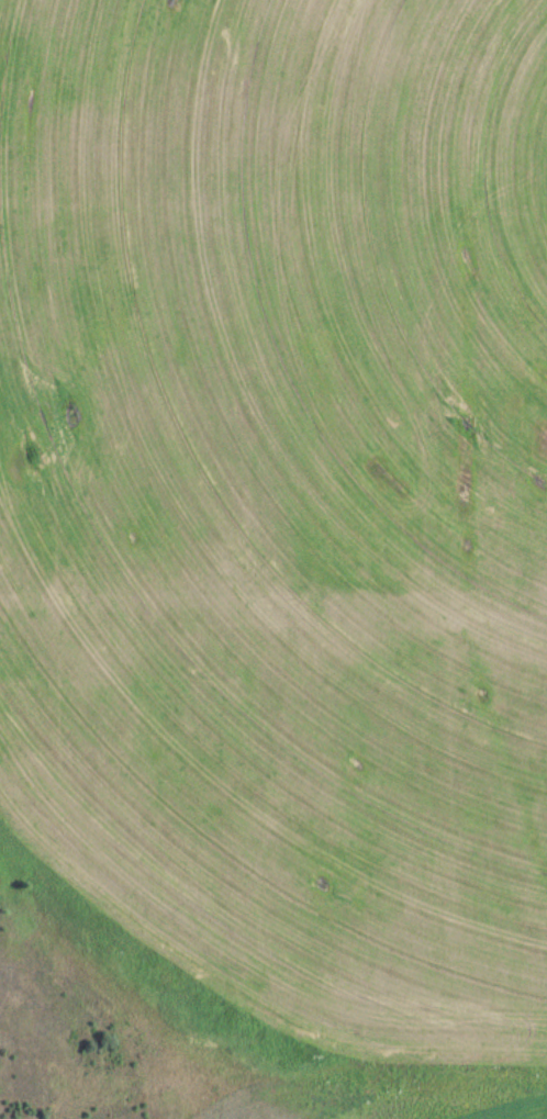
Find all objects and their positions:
wastewater plant: (273, 559)
crop: (410, 1094)

